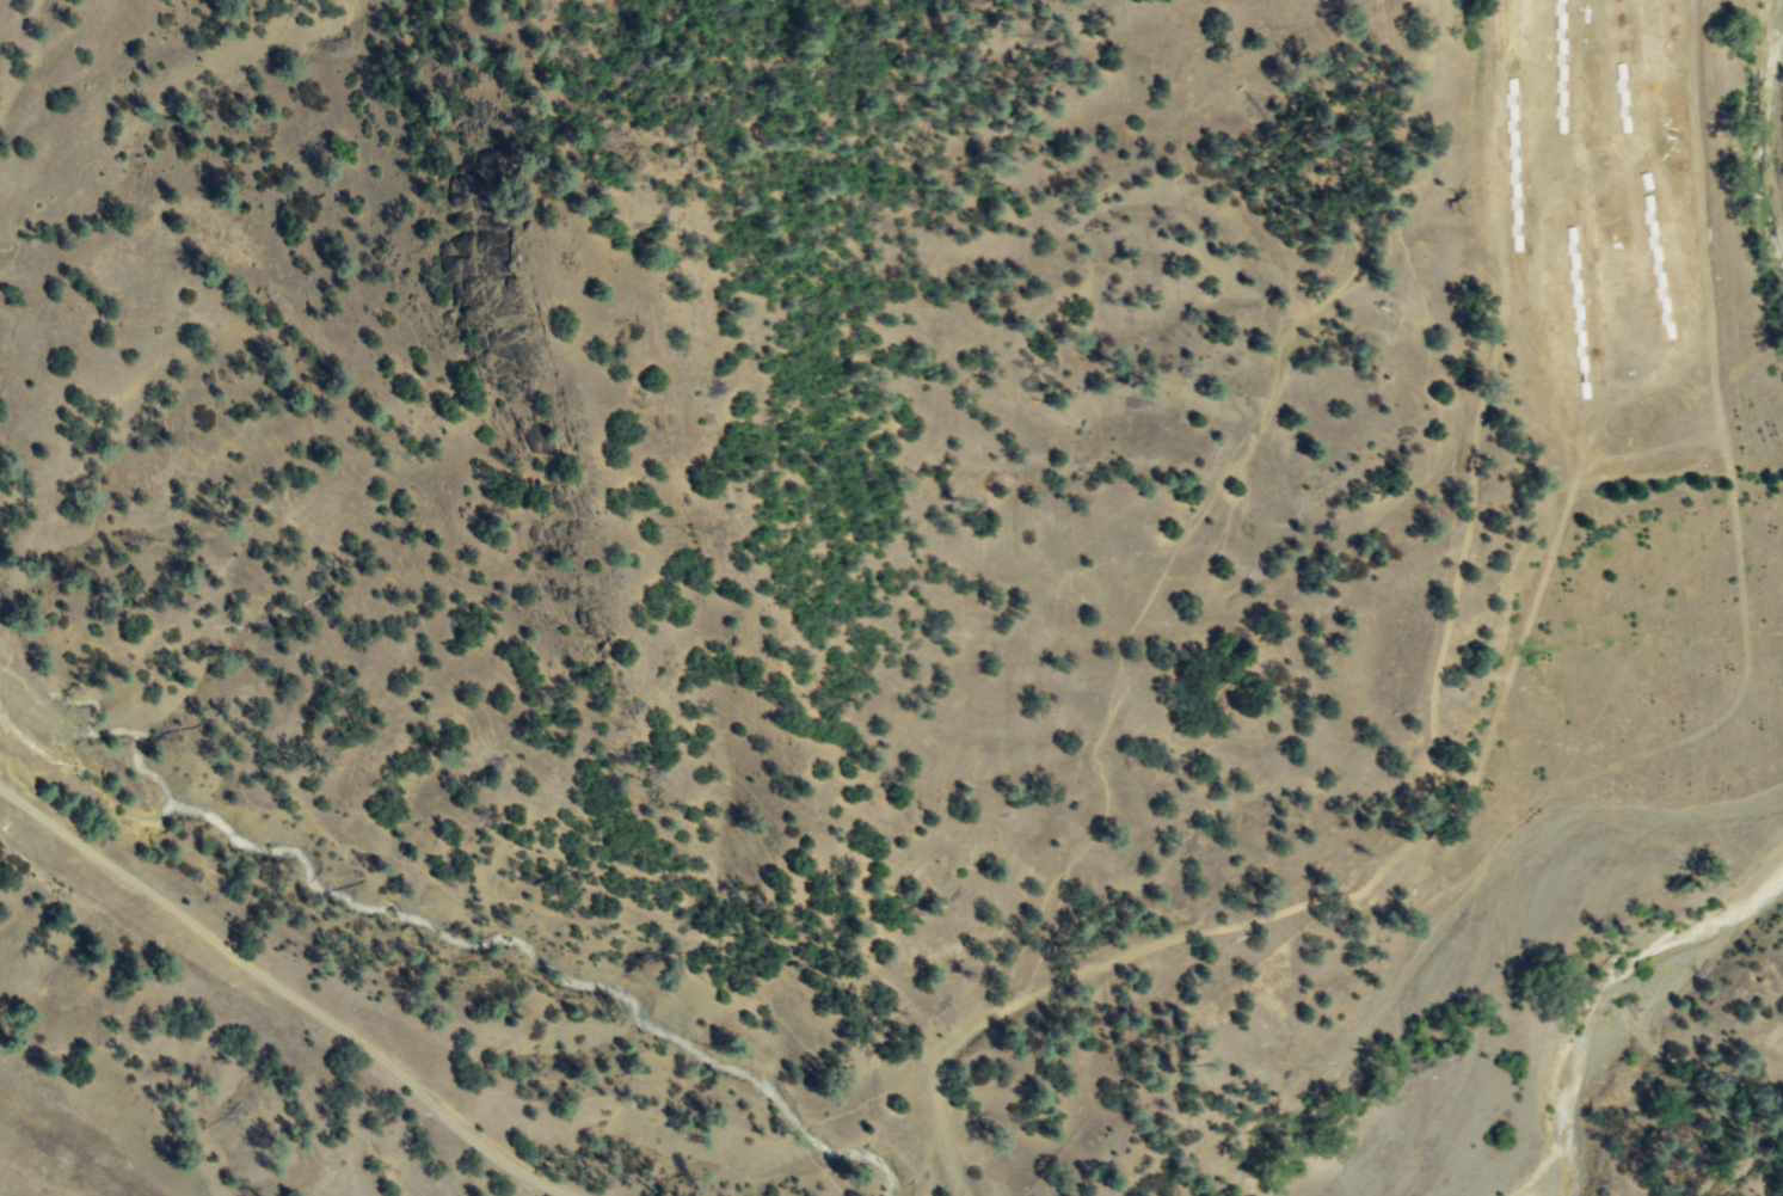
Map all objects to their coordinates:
river: (1765, 130)
river: (1621, 1006)

